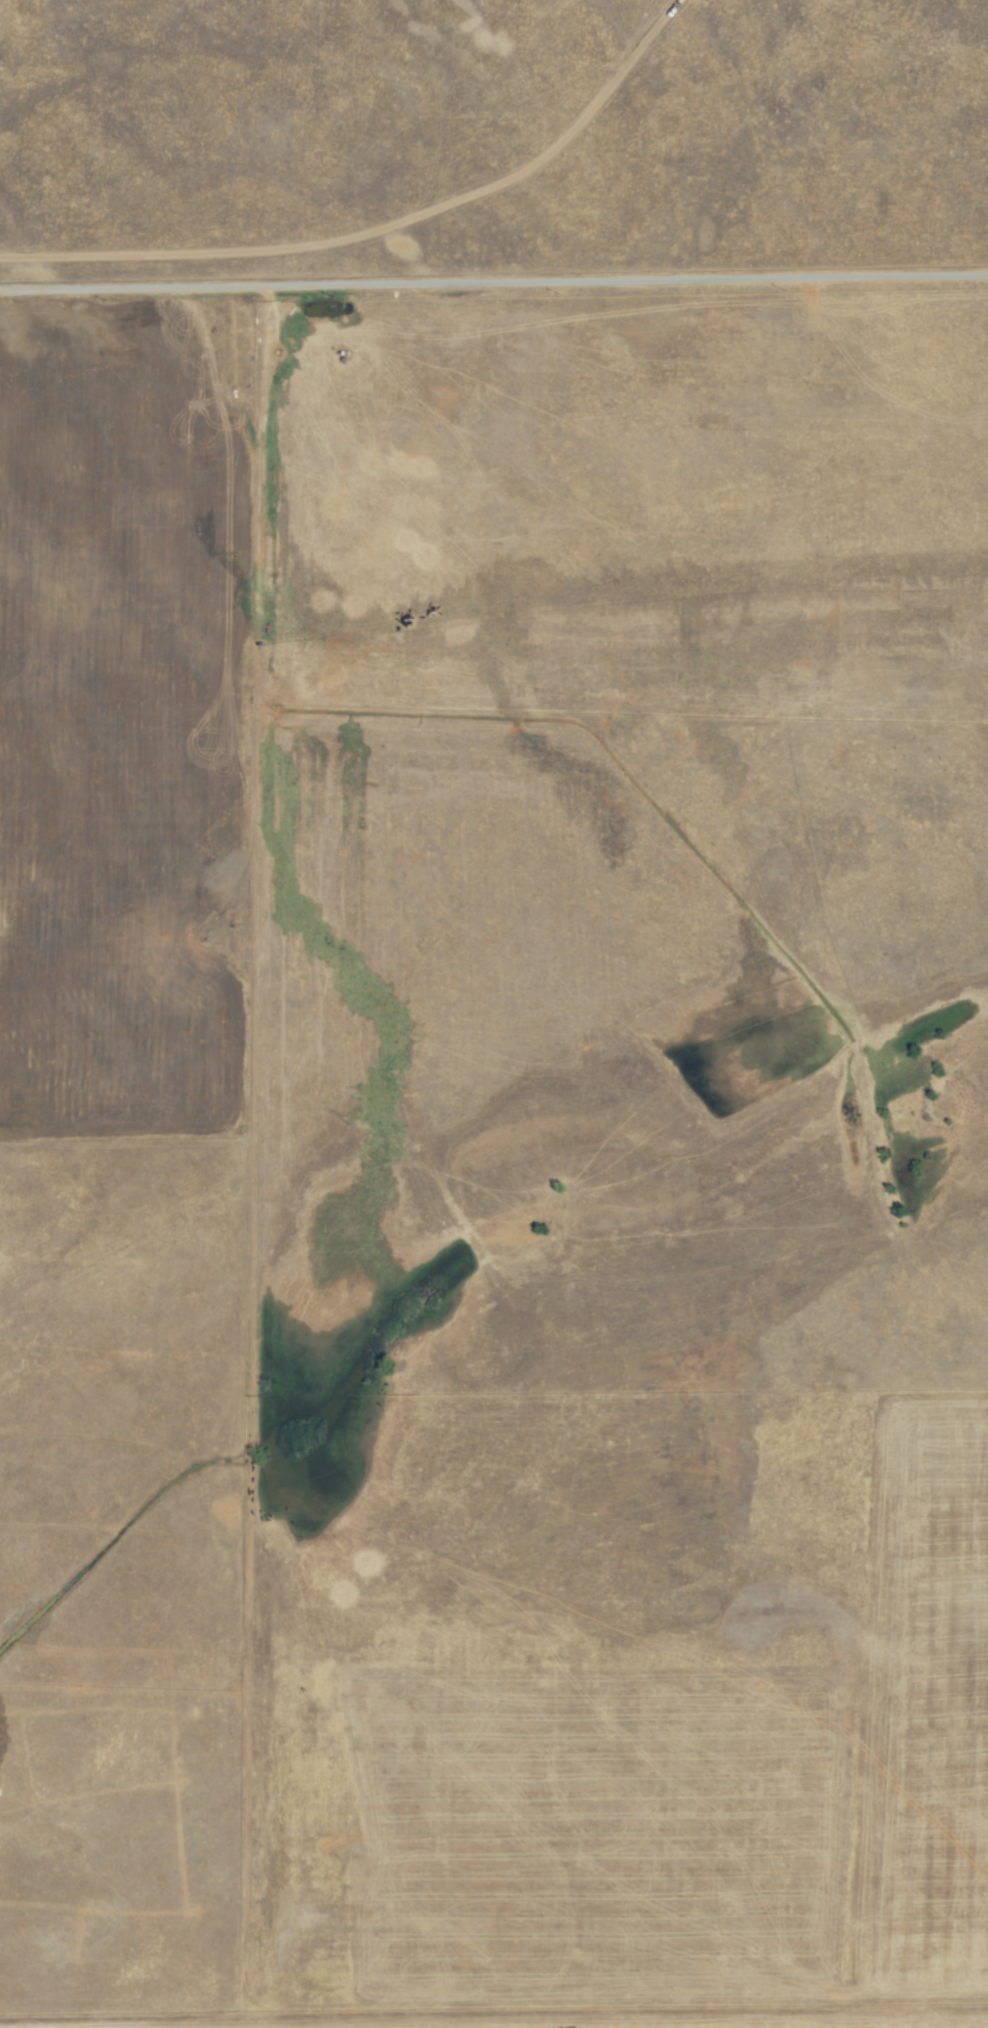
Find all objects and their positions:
road: (385, 226)
road: (493, 280)

